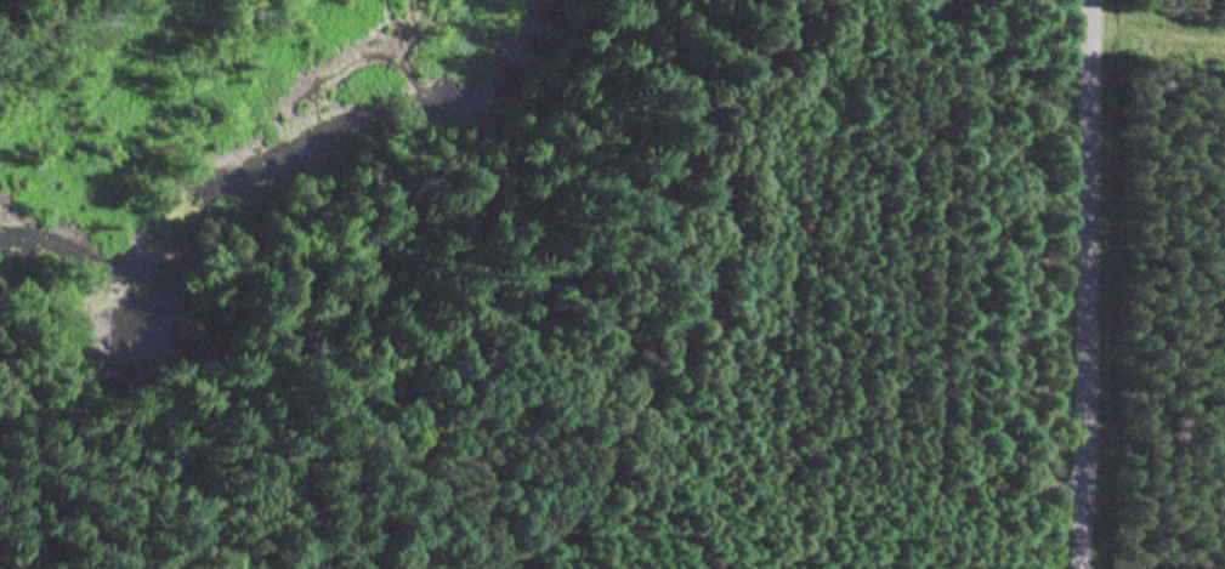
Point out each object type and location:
road: (1083, 284)

